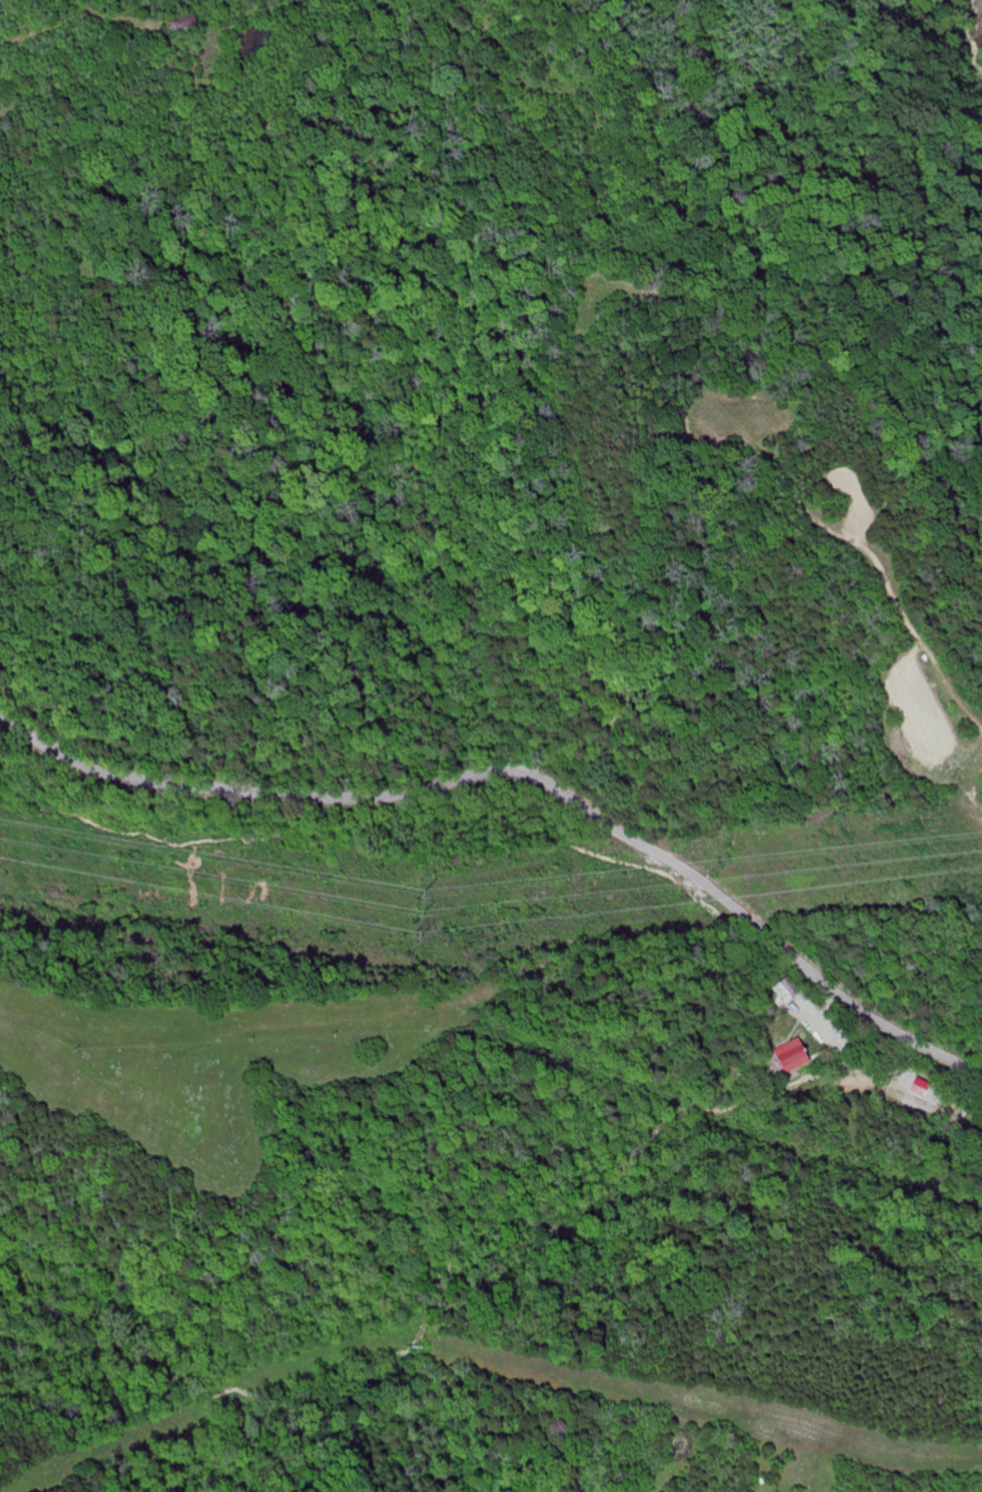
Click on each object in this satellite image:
road: (528, 773)
power tower: (428, 916)
building: (796, 1055)

